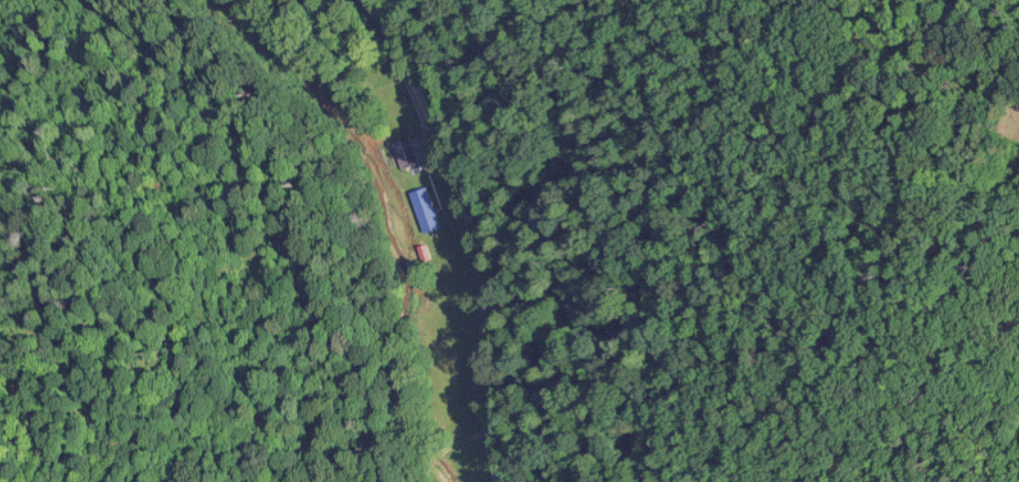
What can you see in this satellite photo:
road: (422, 45)
building: (404, 153)
road: (474, 231)
road: (445, 441)

